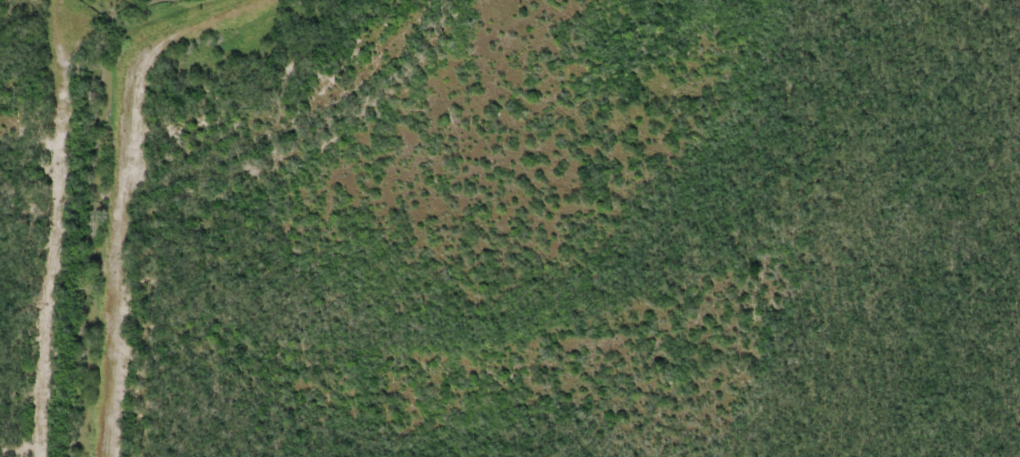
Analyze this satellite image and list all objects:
road: (303, 224)
road: (48, 228)

